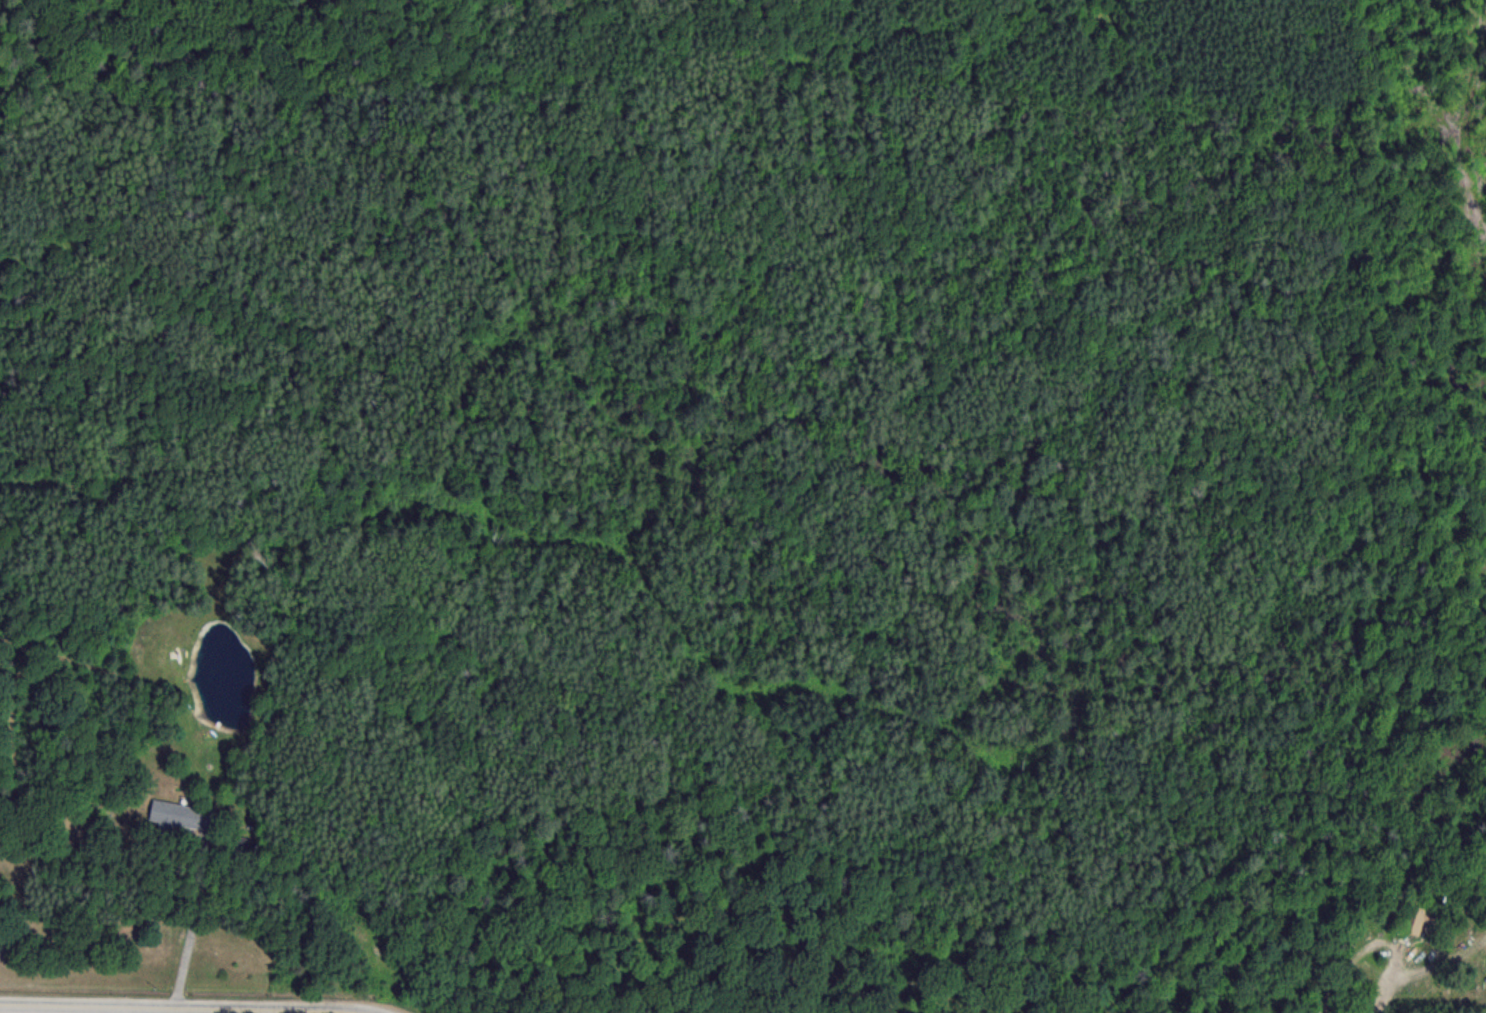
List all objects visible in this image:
building: (173, 814)
building: (242, 847)
building: (1413, 919)
road: (199, 1006)
road: (1370, 1012)

